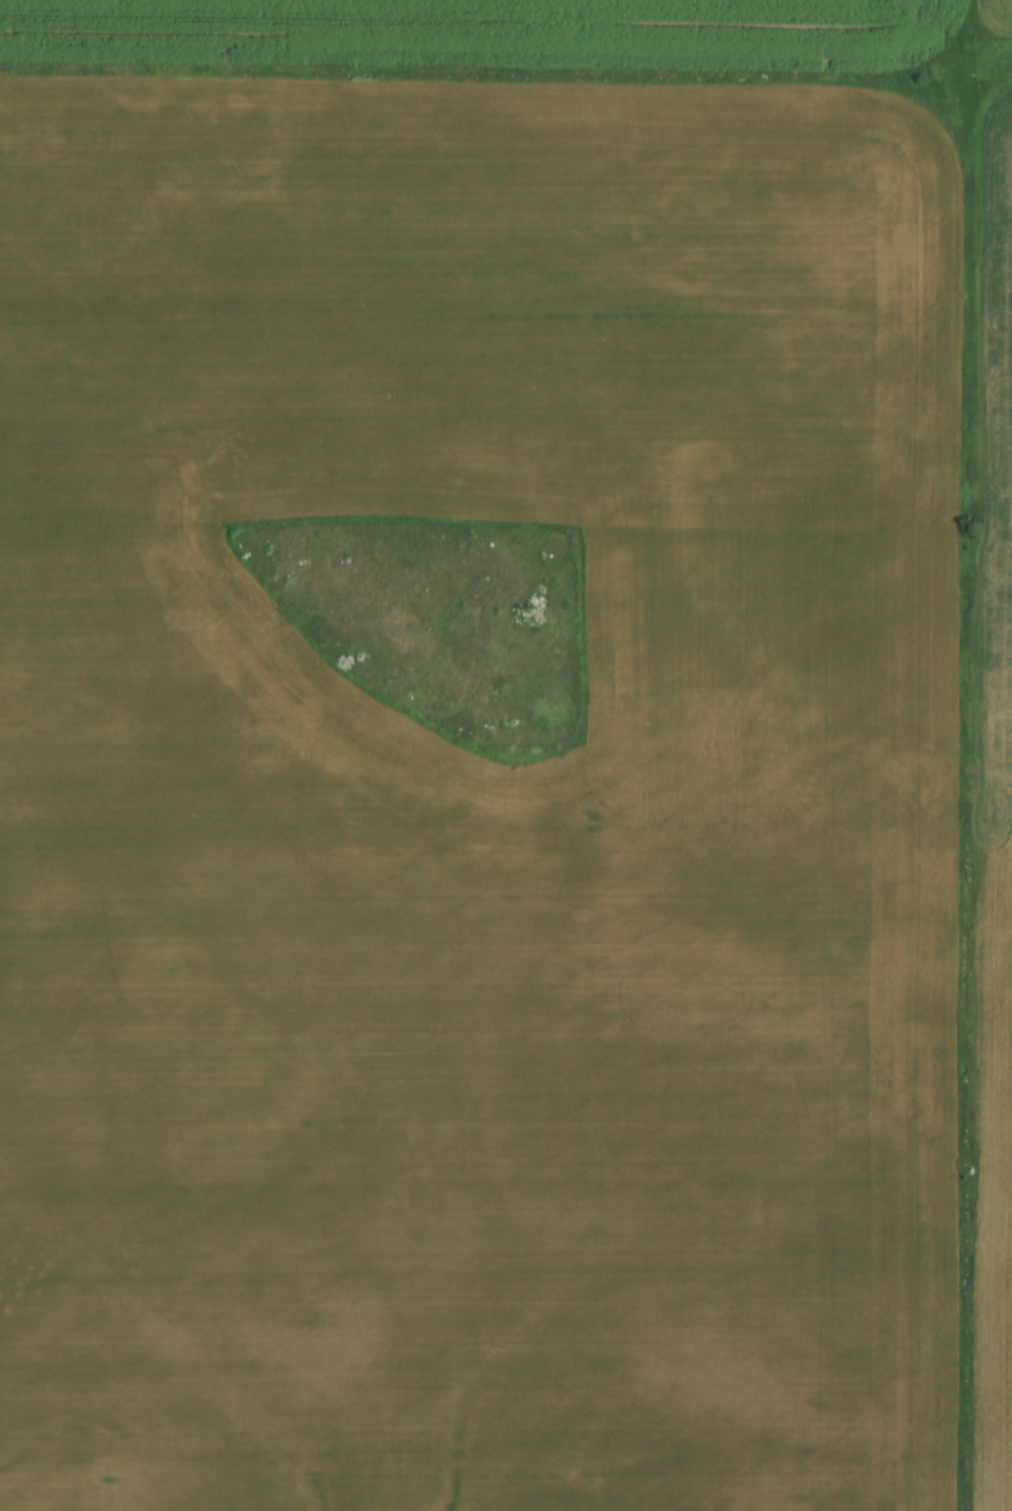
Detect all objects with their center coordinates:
road: (505, 65)

